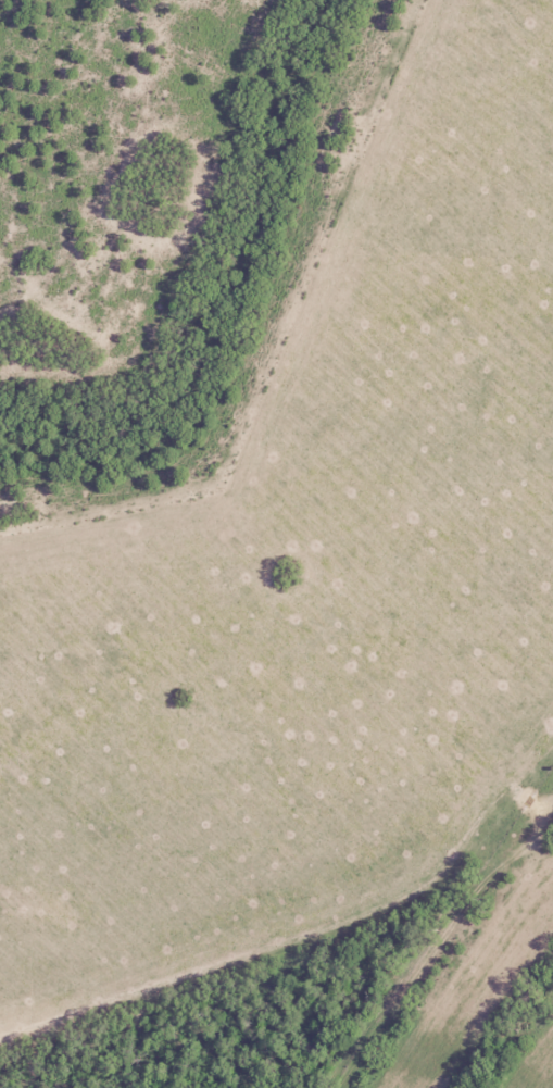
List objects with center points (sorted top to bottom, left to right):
road: (439, 924)

